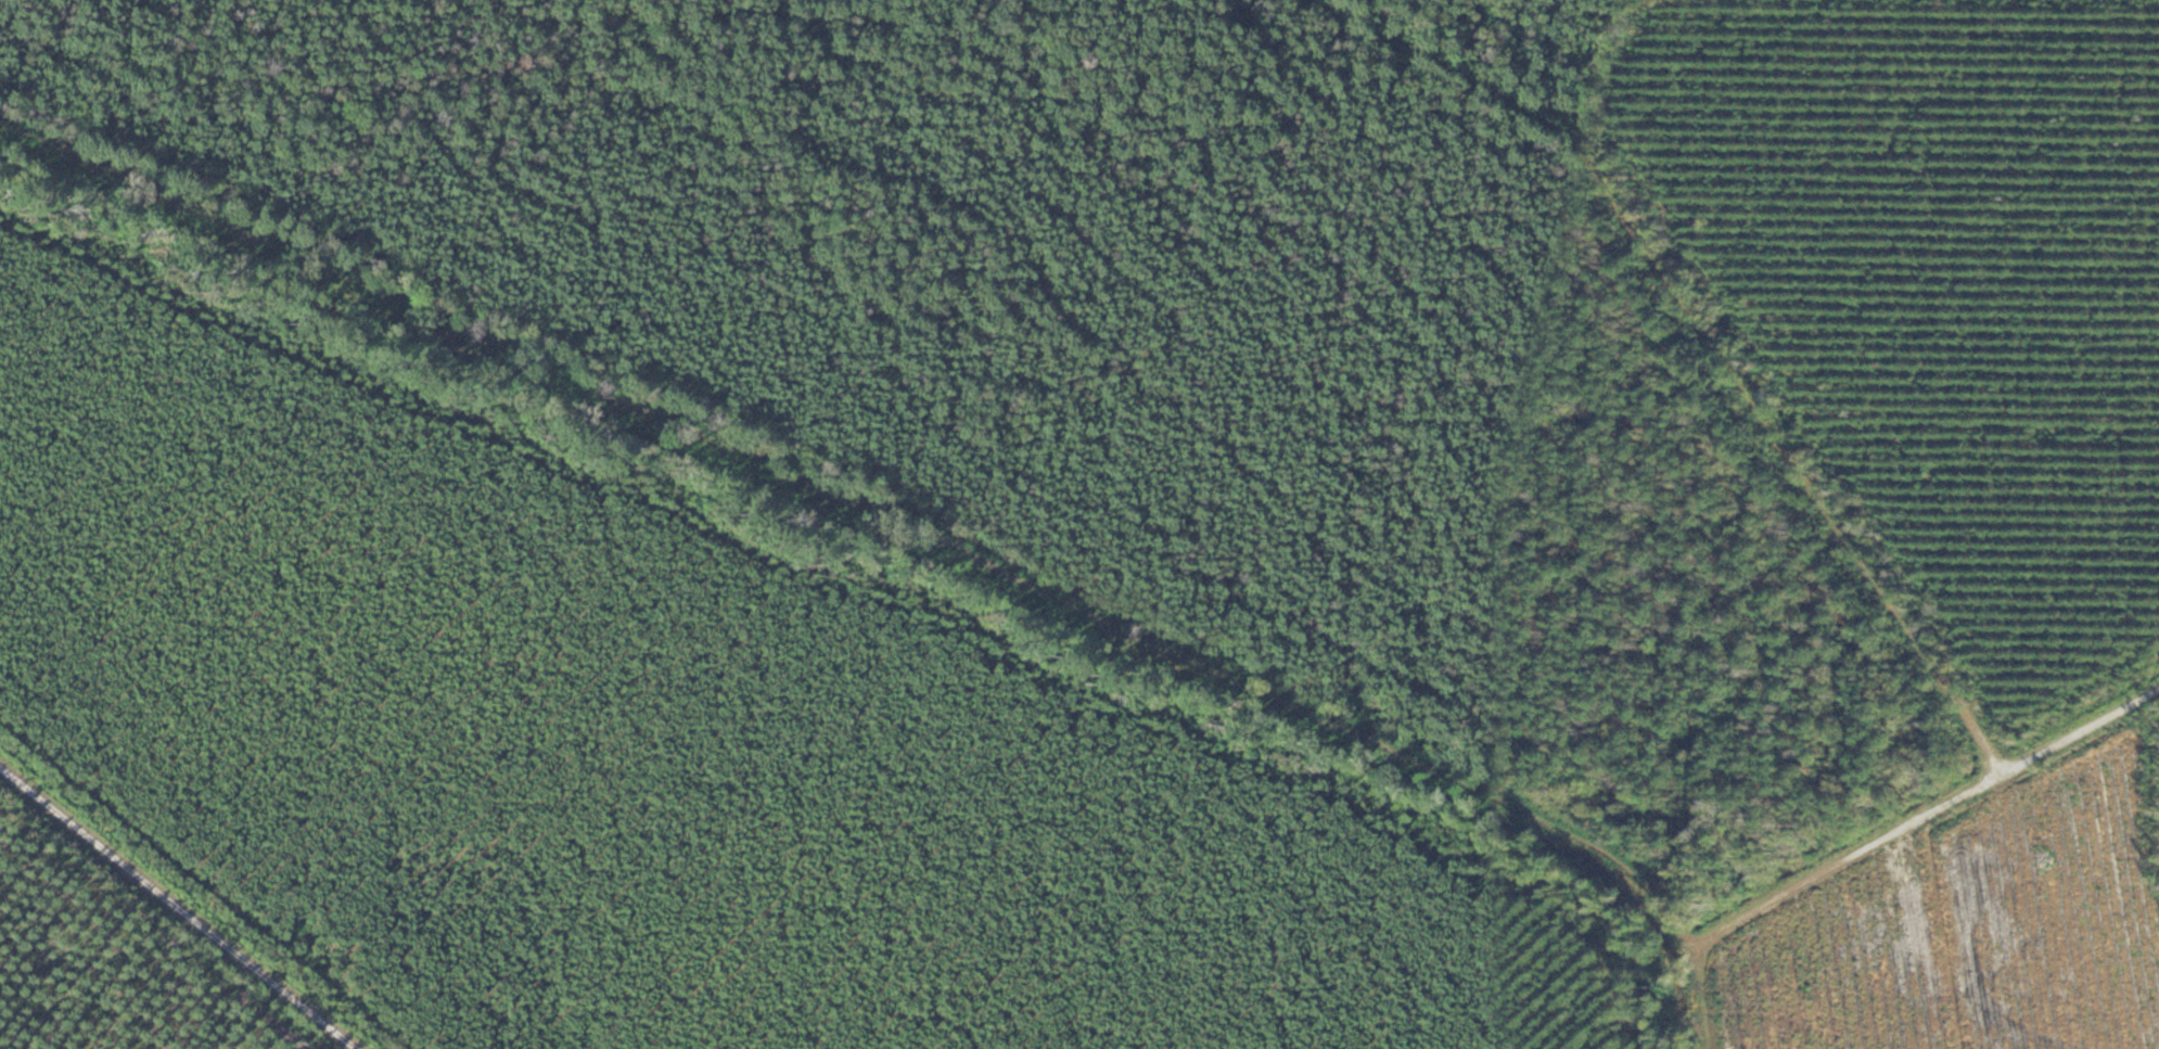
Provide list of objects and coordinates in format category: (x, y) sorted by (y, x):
road: (176, 900)

